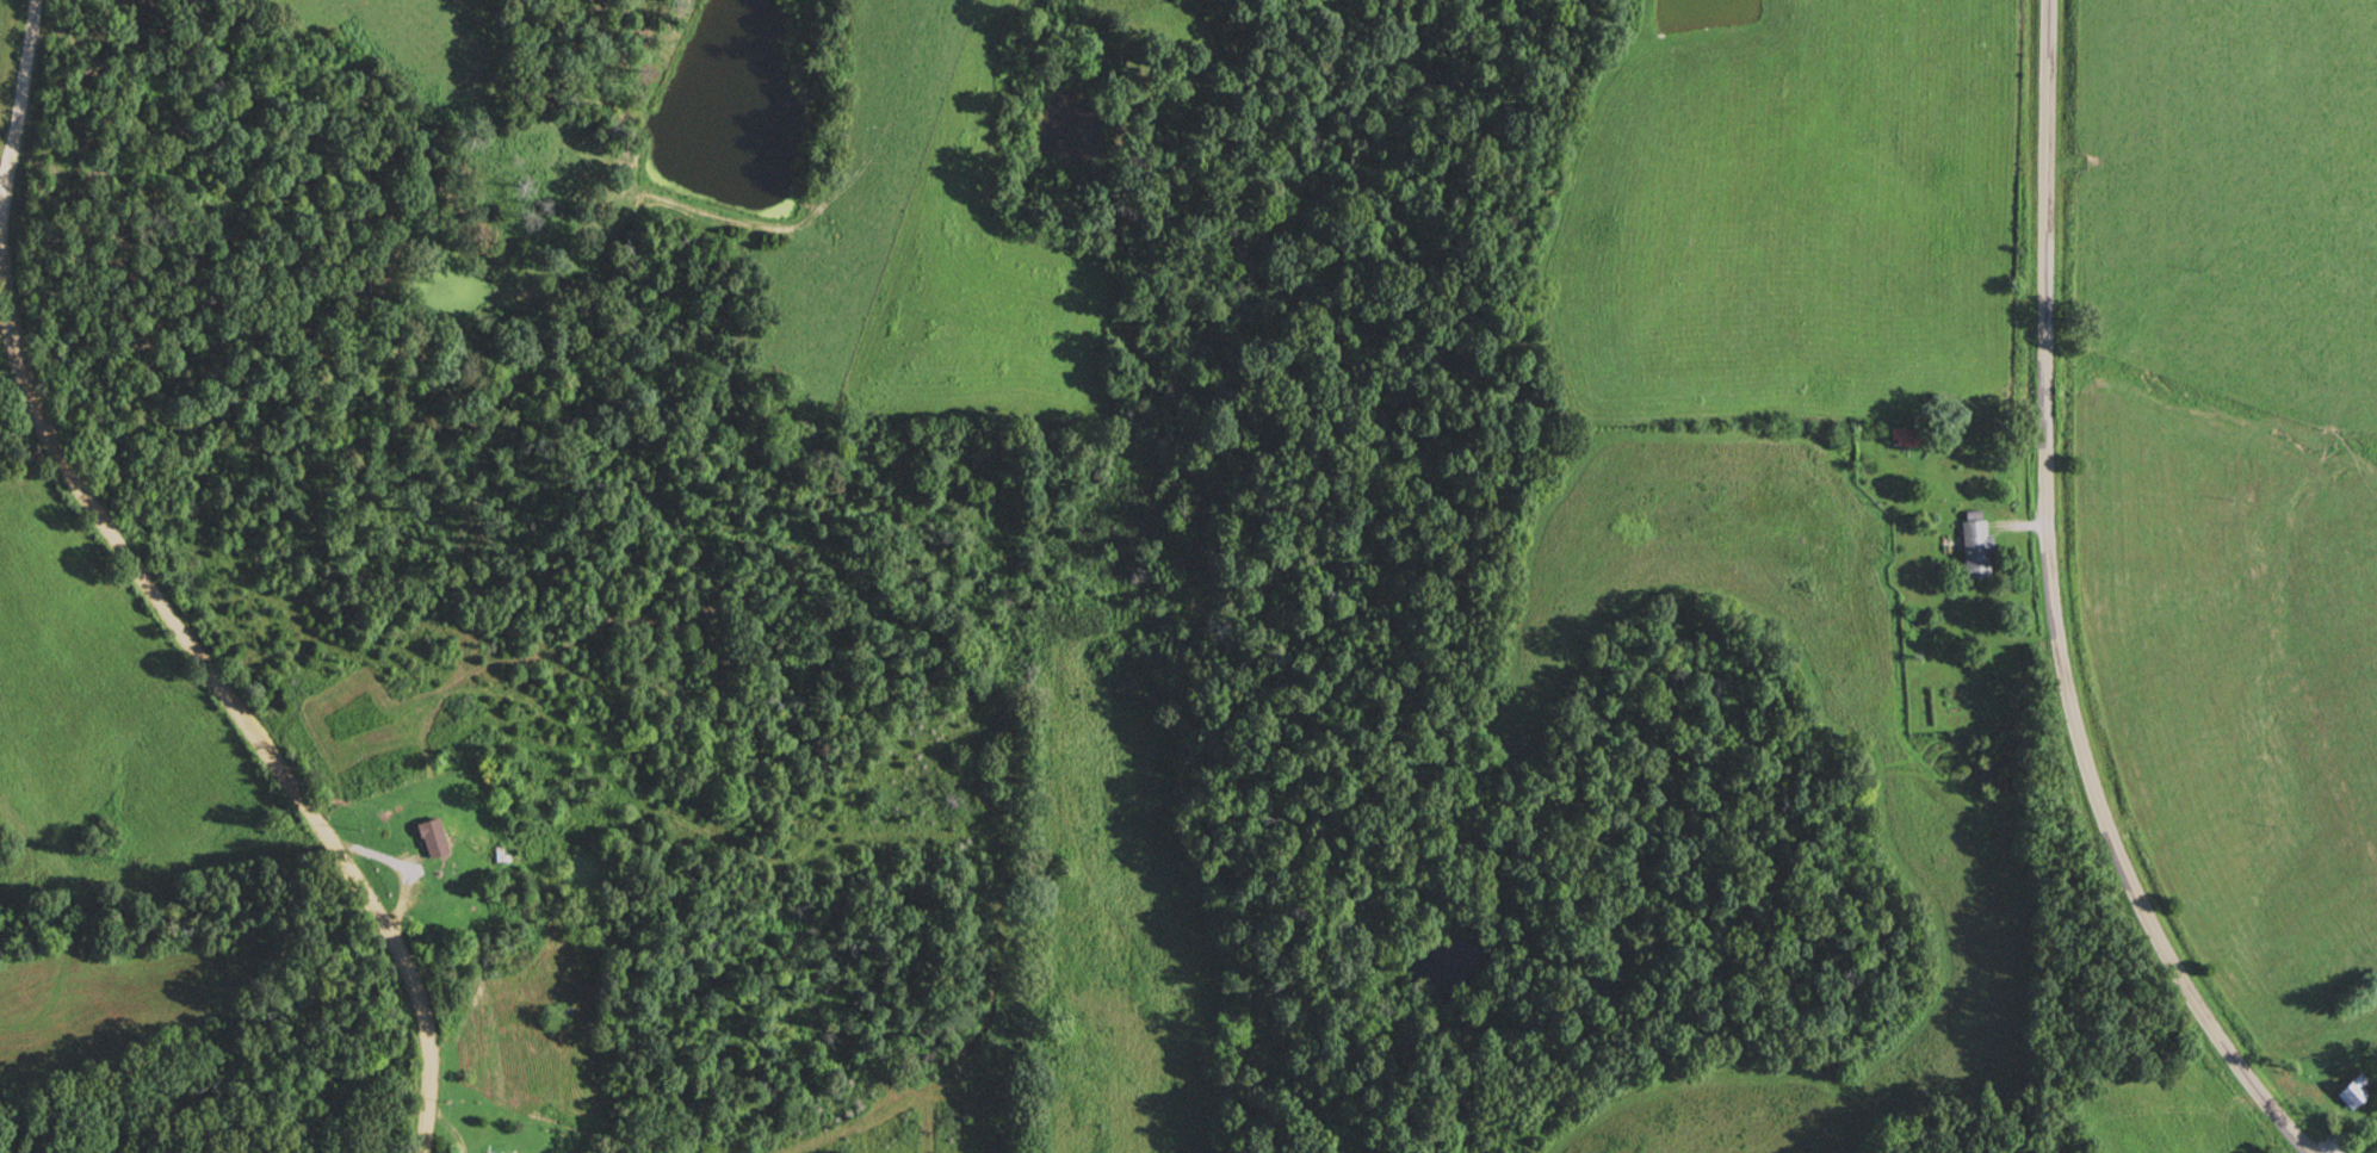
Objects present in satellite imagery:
building: (1913, 436)
building: (1981, 548)
road: (155, 594)
road: (2054, 609)
building: (437, 837)
building: (2353, 1089)
building: (493, 1152)

